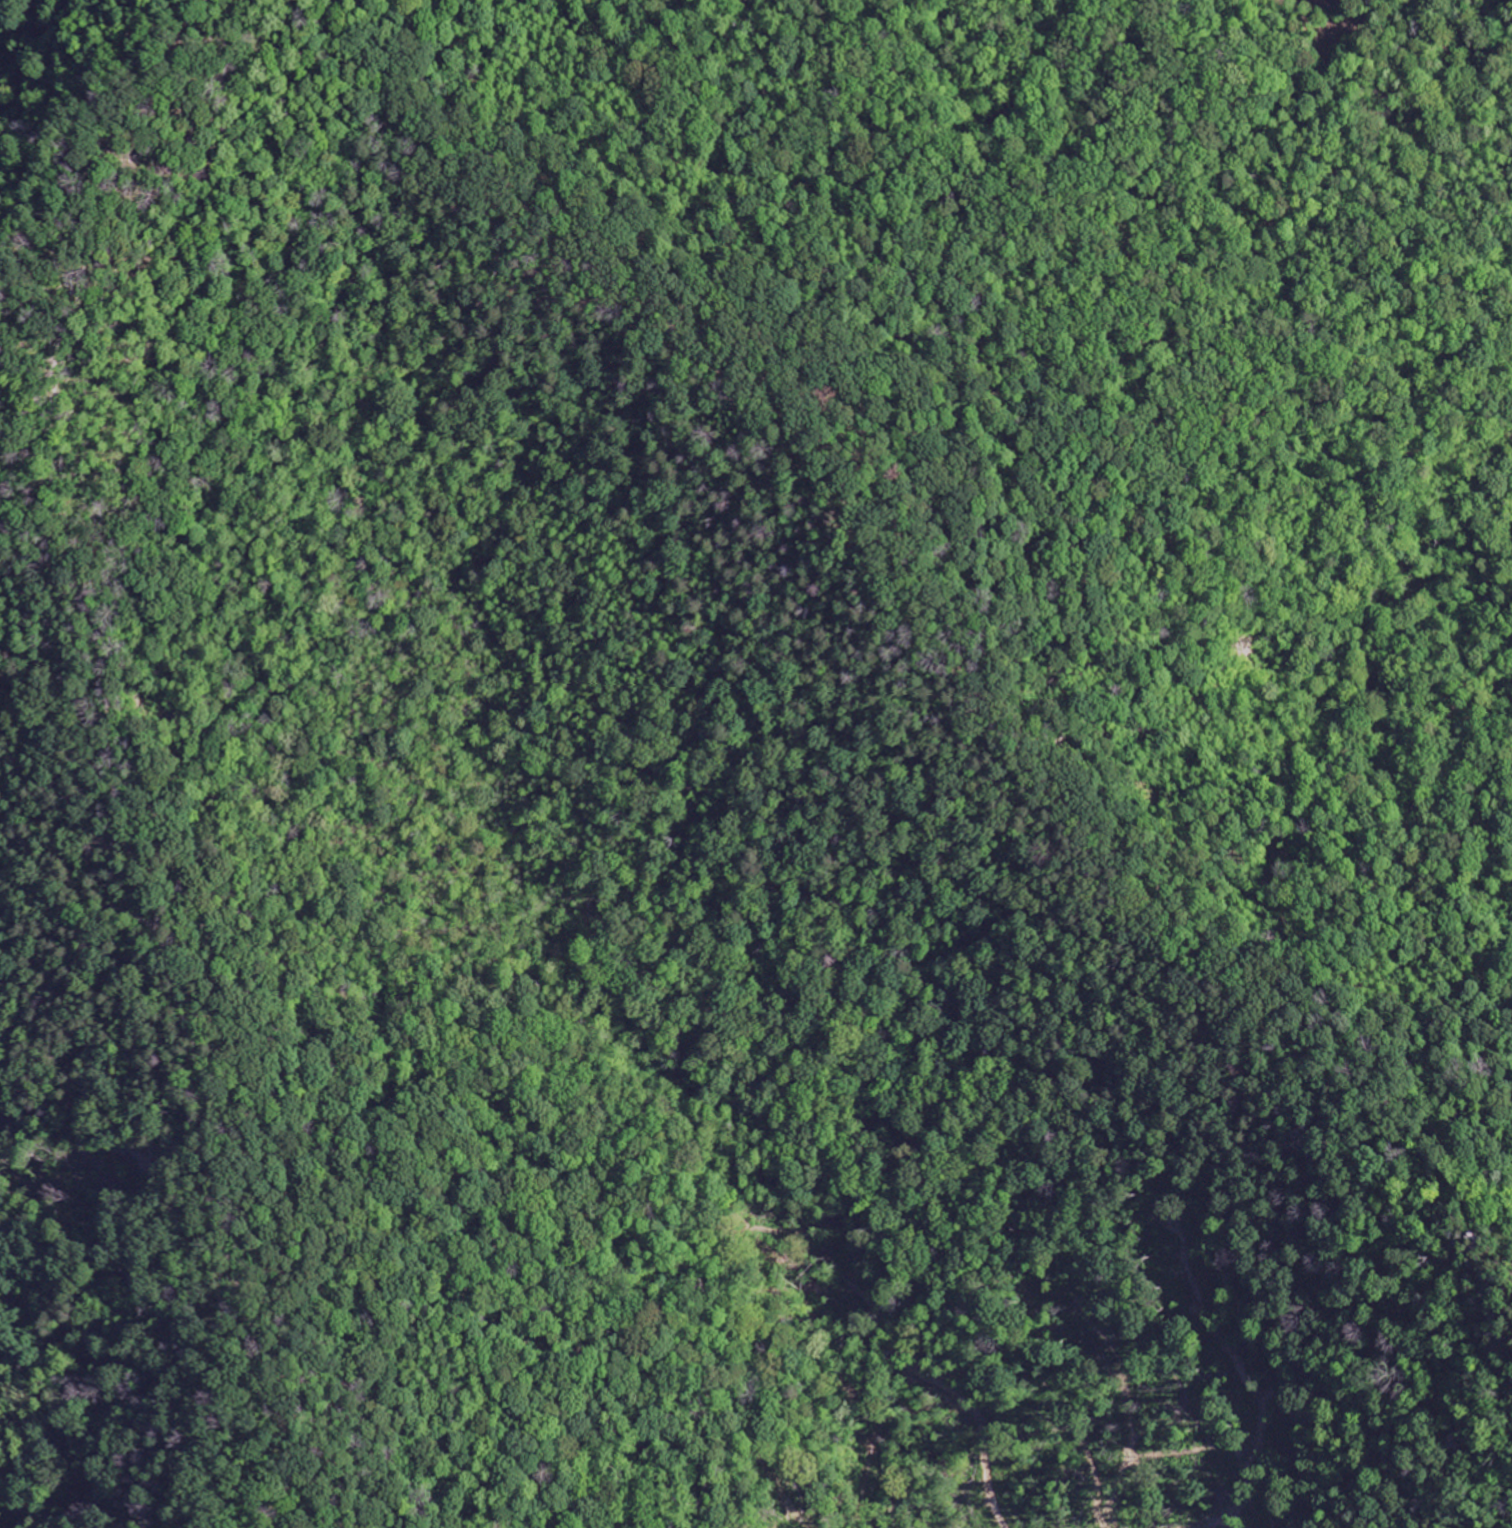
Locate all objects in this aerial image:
road: (1510, 1)
road: (380, 425)
road: (132, 690)
road: (84, 887)

